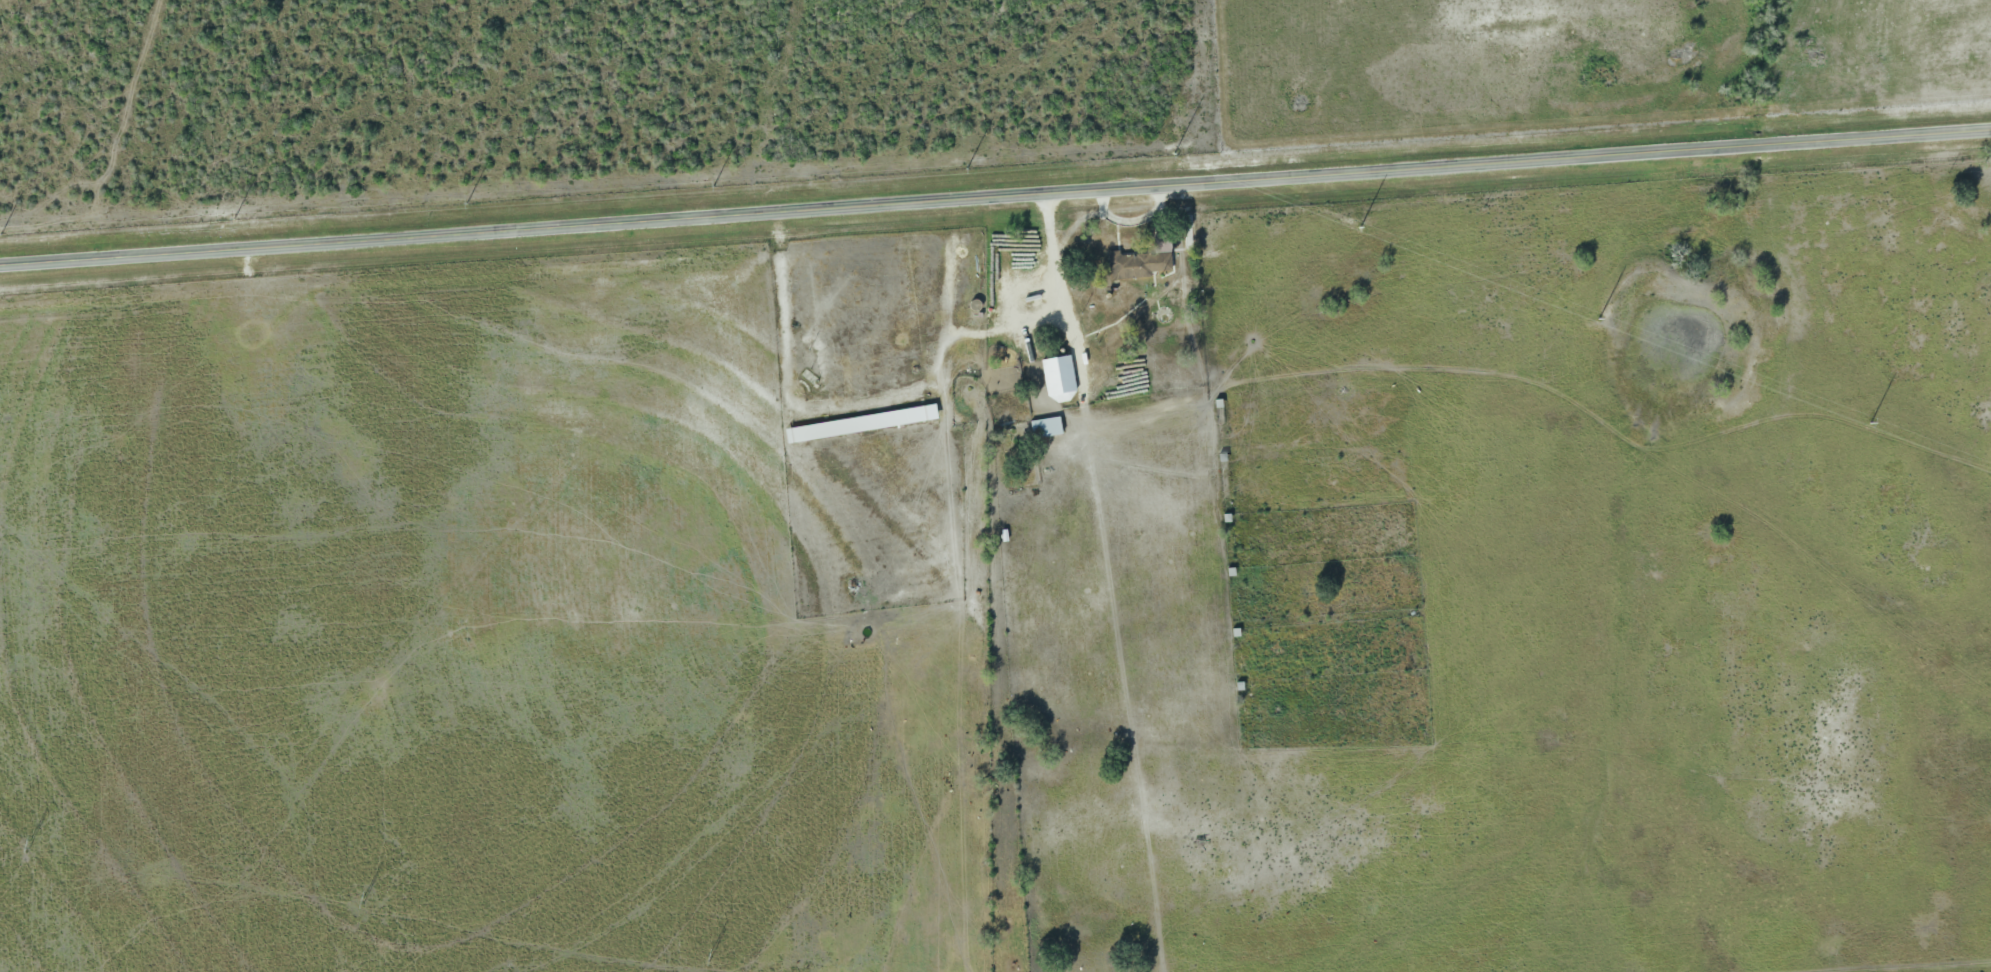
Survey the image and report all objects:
power tower: (1178, 152)
power tower: (971, 167)
power tower: (714, 185)
road: (995, 200)
power tower: (468, 201)
power tower: (235, 213)
power tower: (1362, 229)
power tower: (2, 232)
building: (1137, 265)
road: (1060, 282)
power tower: (1595, 314)
building: (1057, 377)
power tower: (1868, 422)
building: (1044, 429)
power tower: (27, 844)
power tower: (360, 900)
power tower: (710, 959)

